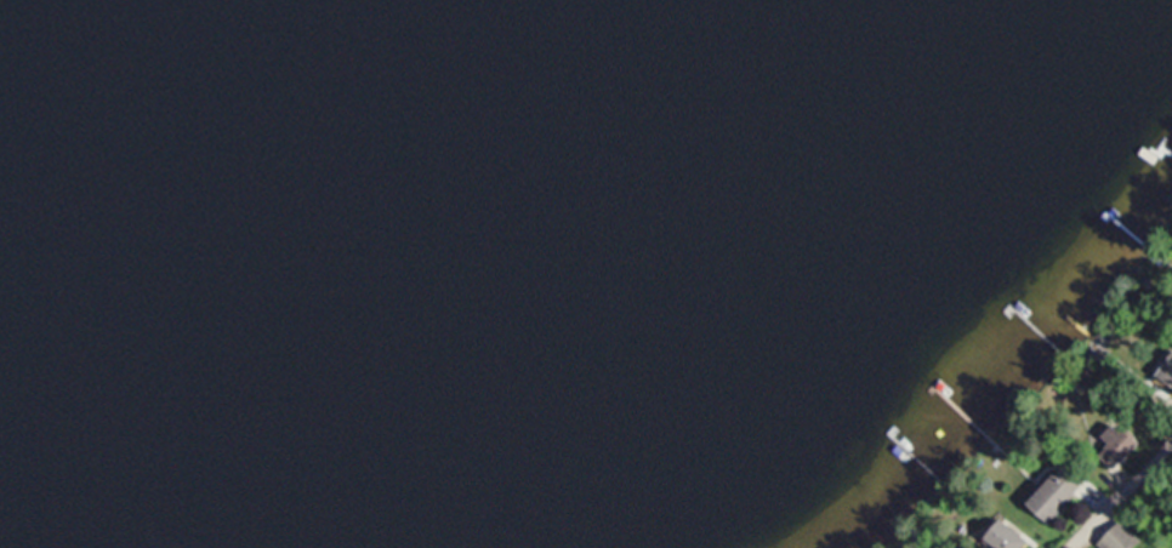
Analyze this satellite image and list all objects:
building: (1171, 375)
building: (1117, 450)
road: (1120, 491)
building: (1058, 496)
building: (1119, 538)

